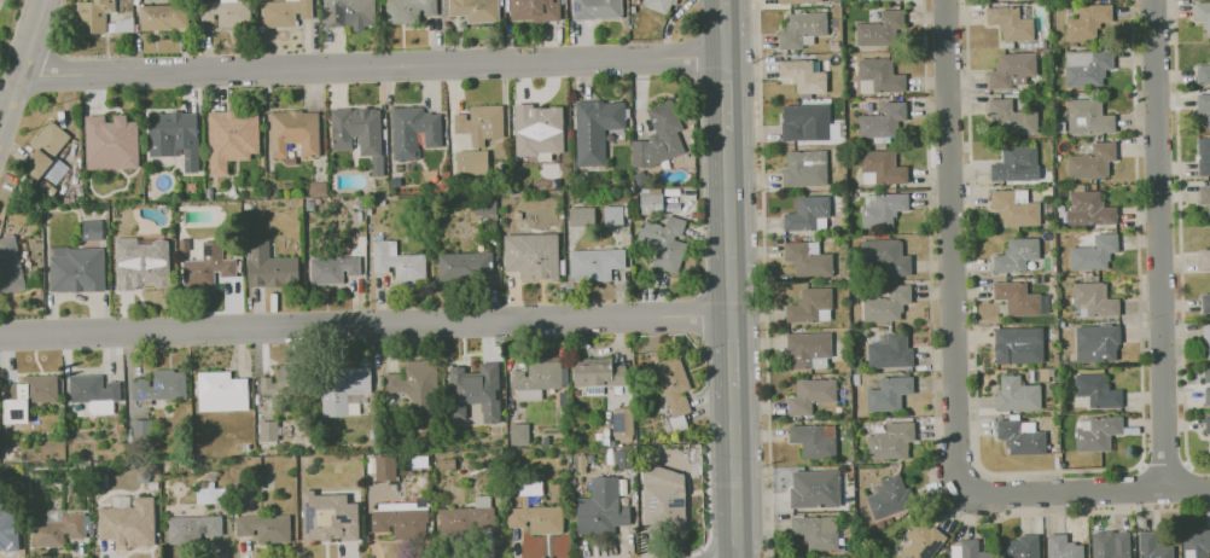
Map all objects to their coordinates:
building: (865, 0)
building: (883, 0)
building: (798, 1)
building: (853, 2)
rooftop solar panel: (575, 7)
building: (595, 8)
building: (825, 8)
building: (475, 10)
building: (534, 10)
building: (226, 12)
building: (285, 12)
building: (348, 13)
building: (92, 14)
building: (1204, 14)
building: (162, 17)
building: (1088, 21)
building: (1012, 22)
road: (722, 29)
building: (803, 29)
building: (882, 29)
building: (834, 43)
building: (1043, 43)
building: (1046, 52)
road: (21, 59)
road: (370, 64)
building: (1088, 66)
building: (1013, 70)
building: (1203, 74)
building: (805, 76)
building: (880, 76)
road: (723, 95)
building: (1204, 106)
building: (1089, 117)
building: (1013, 118)
building: (807, 122)
building: (884, 122)
building: (479, 123)
building: (595, 128)
building: (537, 130)
building: (295, 132)
building: (413, 132)
building: (357, 133)
building: (174, 136)
building: (658, 136)
building: (231, 138)
building: (851, 140)
building: (110, 141)
building: (47, 153)
building: (1204, 156)
building: (471, 162)
building: (1093, 162)
building: (1017, 164)
building: (883, 168)
building: (805, 169)
building: (840, 186)
building: (1008, 187)
building: (1047, 191)
building: (1205, 194)
building: (484, 205)
building: (884, 208)
building: (1017, 208)
building: (1089, 209)
building: (808, 213)
building: (612, 215)
building: (581, 216)
road: (727, 225)
building: (91, 229)
building: (664, 242)
road: (1180, 242)
road: (1159, 244)
road: (950, 246)
rooftop solar panel: (205, 252)
building: (1095, 252)
building: (531, 255)
building: (1017, 255)
building: (888, 256)
building: (1205, 258)
building: (809, 260)
building: (396, 261)
building: (10, 263)
building: (140, 263)
building: (594, 263)
building: (464, 266)
building: (206, 267)
building: (269, 267)
building: (76, 268)
building: (332, 269)
road: (764, 279)
building: (831, 280)
building: (1022, 300)
building: (1094, 300)
building: (1205, 303)
building: (888, 304)
building: (811, 306)
road: (363, 322)
building: (863, 329)
building: (1206, 332)
building: (1057, 333)
building: (1098, 343)
building: (1020, 345)
road: (729, 350)
building: (810, 350)
building: (890, 350)
building: (857, 365)
building: (598, 372)
building: (1041, 374)
building: (1208, 374)
building: (537, 378)
building: (857, 378)
building: (283, 382)
building: (414, 384)
building: (159, 385)
building: (673, 385)
building: (342, 388)
rooftop solar panel: (594, 390)
road: (933, 390)
building: (221, 391)
building: (475, 391)
building: (1098, 391)
building: (93, 393)
building: (890, 394)
building: (1018, 394)
building: (27, 395)
building: (811, 395)
building: (1206, 395)
road: (731, 407)
rooftop solar panel: (618, 422)
building: (1208, 423)
building: (622, 424)
building: (140, 429)
building: (268, 430)
building: (518, 434)
building: (1099, 434)
building: (1023, 436)
building: (816, 440)
building: (891, 441)
road: (1165, 464)
building: (384, 467)
road: (1060, 471)
road: (1187, 486)
road: (1144, 487)
building: (816, 489)
road: (1083, 490)
building: (209, 493)
road: (733, 493)
building: (890, 496)
building: (663, 499)
rooftop solar panel: (675, 501)
rooftop solar panel: (650, 504)
building: (600, 507)
building: (534, 512)
rooftop solar panel: (309, 517)
building: (328, 517)
building: (466, 517)
rooftop solar panel: (345, 518)
building: (400, 518)
building: (890, 521)
building: (128, 523)
building: (880, 524)
building: (193, 528)
building: (263, 528)
building: (57, 529)
building: (819, 531)
building: (8, 536)
building: (924, 541)
building: (1197, 544)
building: (1112, 545)
building: (1134, 546)
building: (1153, 546)
building: (1023, 547)
building: (1064, 547)
building: (970, 550)
rooftop solar panel: (930, 552)

